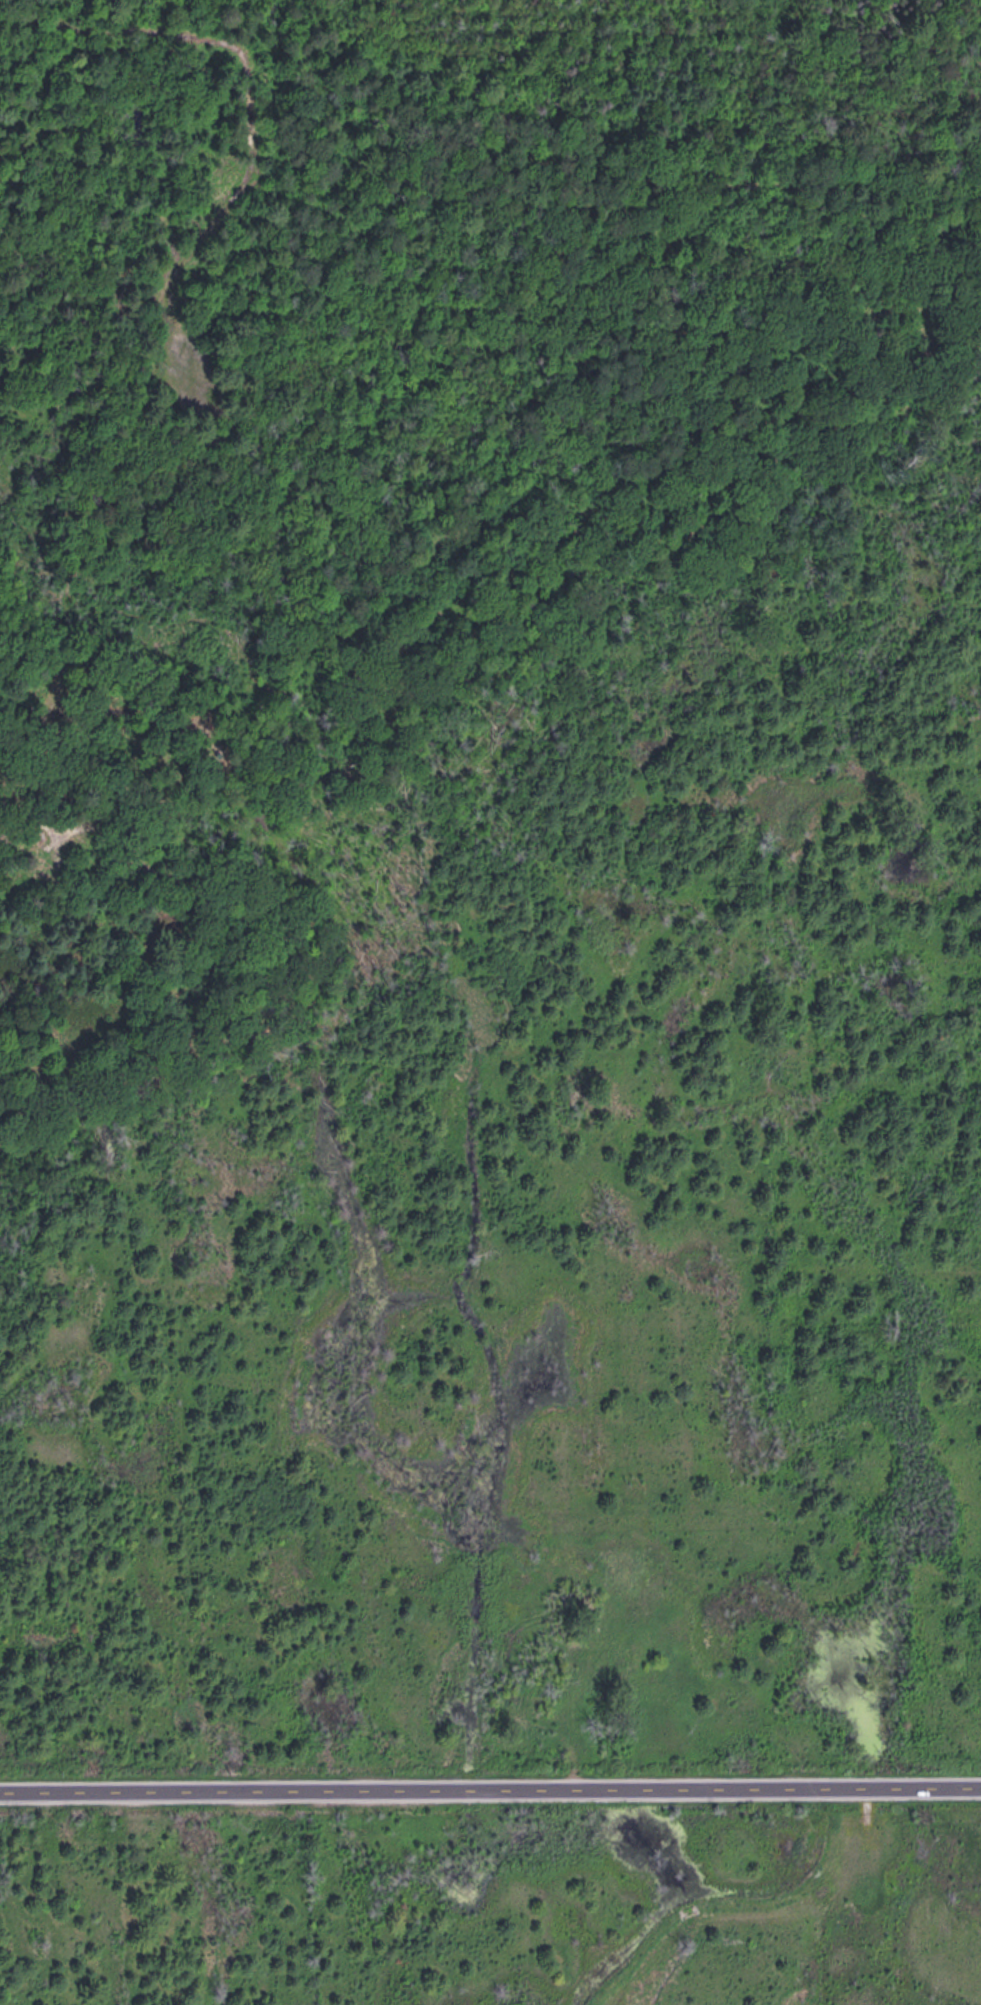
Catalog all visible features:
road: (490, 1772)

